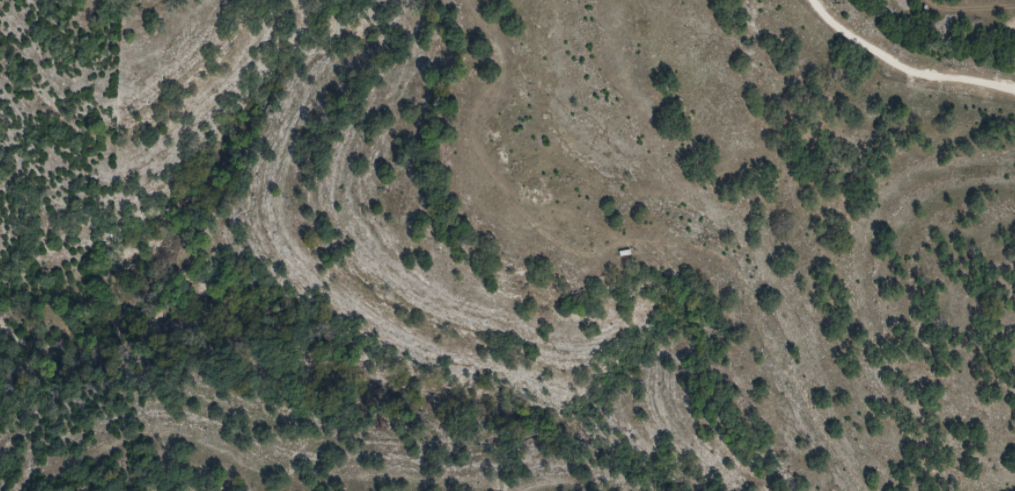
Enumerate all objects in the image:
road: (903, 66)

